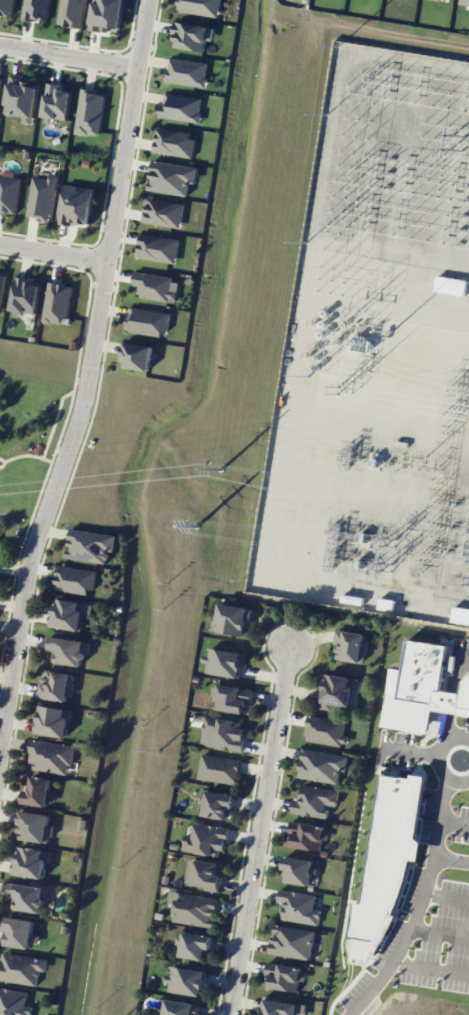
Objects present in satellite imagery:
building: (464, 3)
building: (6, 7)
building: (199, 7)
building: (36, 9)
building: (71, 13)
building: (107, 13)
building: (192, 35)
road: (69, 53)
building: (187, 71)
building: (0, 76)
building: (21, 98)
building: (56, 101)
building: (181, 107)
building: (89, 112)
building: (174, 142)
building: (171, 177)
building: (9, 193)
building: (41, 197)
building: (76, 204)
building: (163, 212)
building: (158, 248)
road: (53, 253)
building: (1, 286)
building: (156, 286)
building: (25, 295)
building: (57, 303)
building: (147, 321)
power substation: (377, 353)
building: (137, 356)
road: (91, 368)
power tower: (221, 469)
power tower: (182, 509)
power tower: (202, 537)
building: (91, 545)
building: (76, 579)
building: (385, 603)
building: (69, 614)
building: (460, 615)
building: (233, 619)
building: (350, 646)
building: (68, 650)
road: (464, 657)
building: (224, 662)
building: (57, 685)
building: (338, 692)
building: (232, 698)
building: (54, 720)
building: (326, 731)
building: (222, 733)
road: (411, 749)
power tower: (157, 750)
building: (51, 756)
road: (440, 759)
building: (322, 765)
building: (219, 768)
building: (39, 792)
building: (315, 801)
building: (218, 804)
road: (440, 817)
road: (454, 820)
building: (35, 827)
road: (262, 830)
building: (308, 835)
building: (205, 840)
building: (32, 862)
building: (297, 870)
building: (207, 874)
building: (28, 896)
building: (299, 907)
building: (194, 909)
road: (410, 925)
building: (21, 933)
building: (292, 942)
building: (195, 945)
building: (21, 968)
building: (285, 976)
building: (185, 980)
building: (14, 1002)
building: (180, 1008)
building: (282, 1008)

